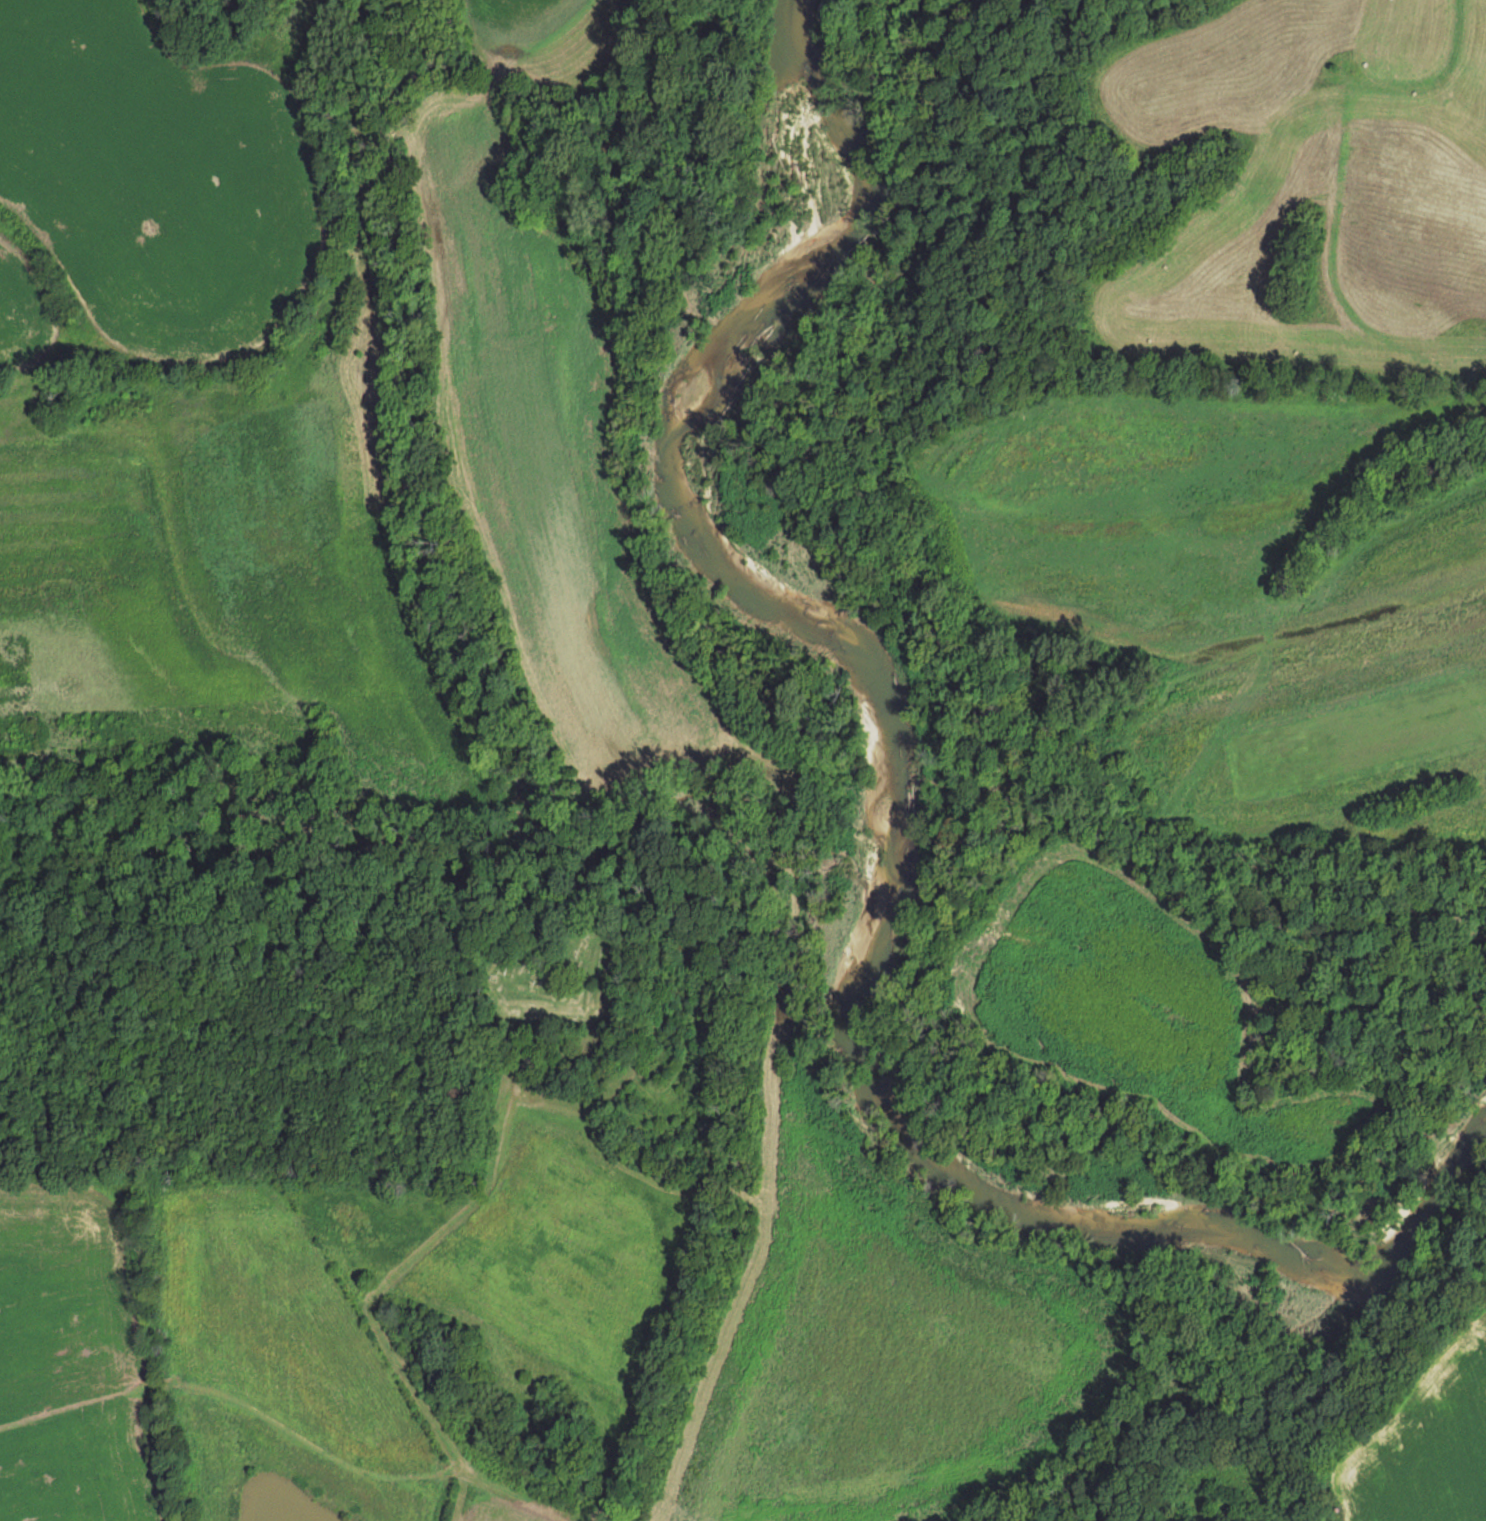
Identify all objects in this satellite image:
river: (887, 844)
park: (552, 970)

